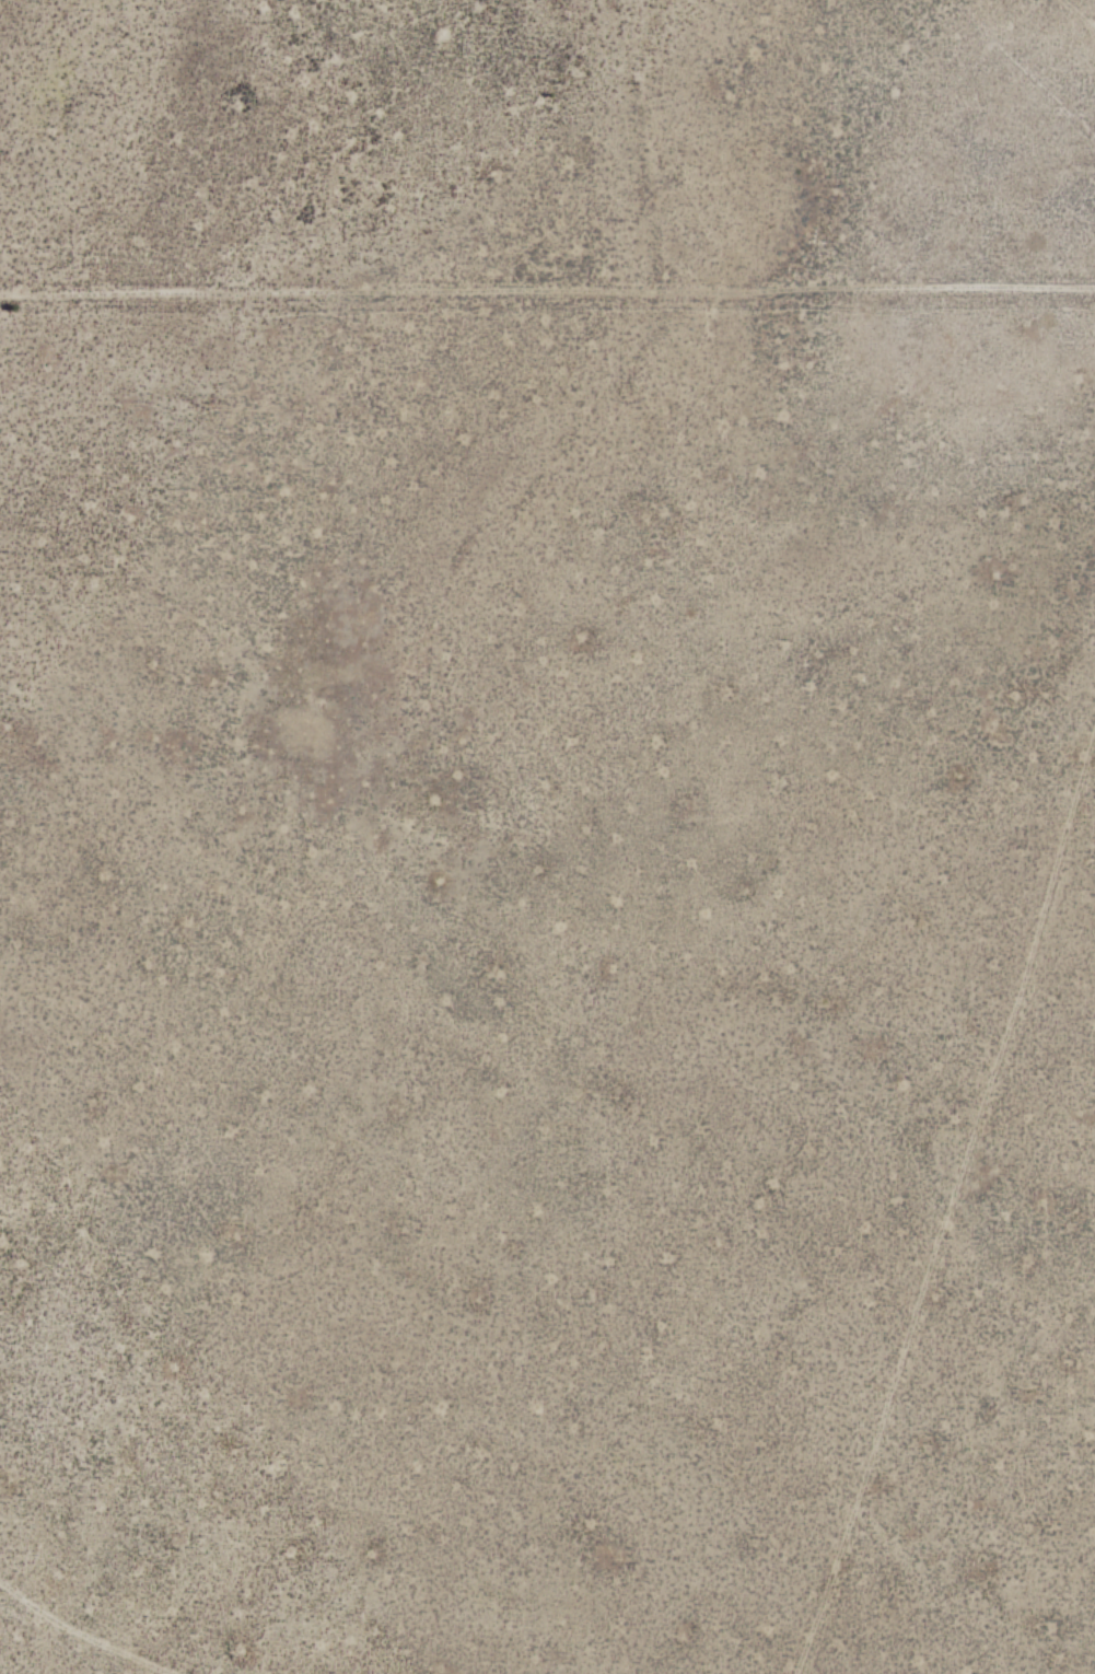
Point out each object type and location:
road: (1085, 9)
road: (547, 265)

